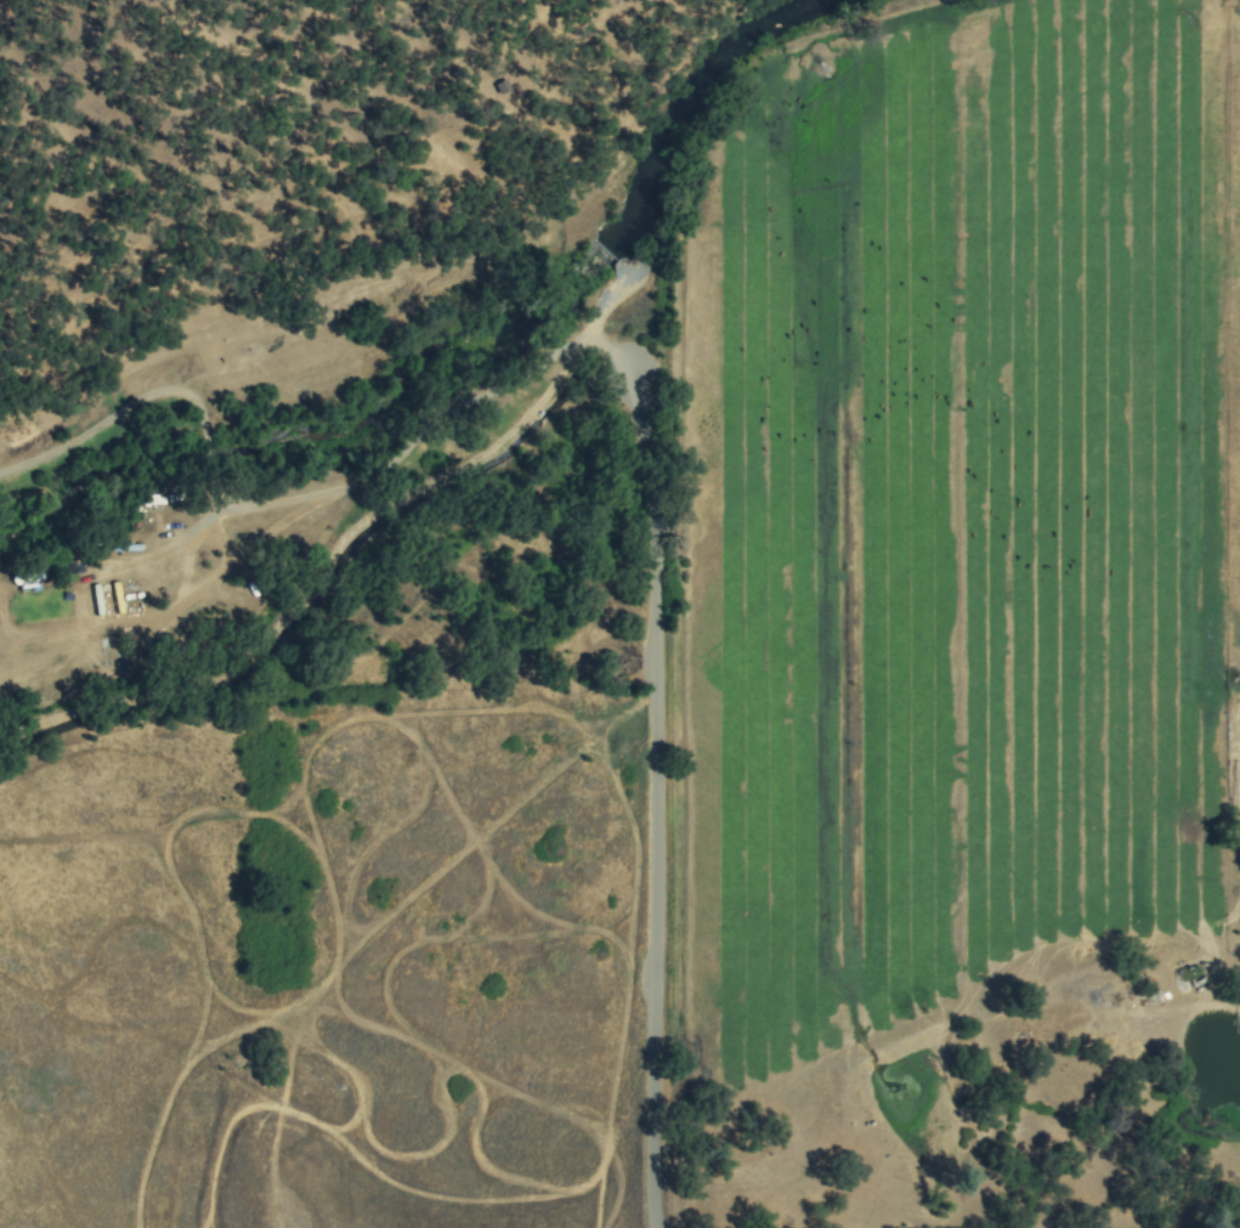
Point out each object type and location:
dam: (610, 250)

